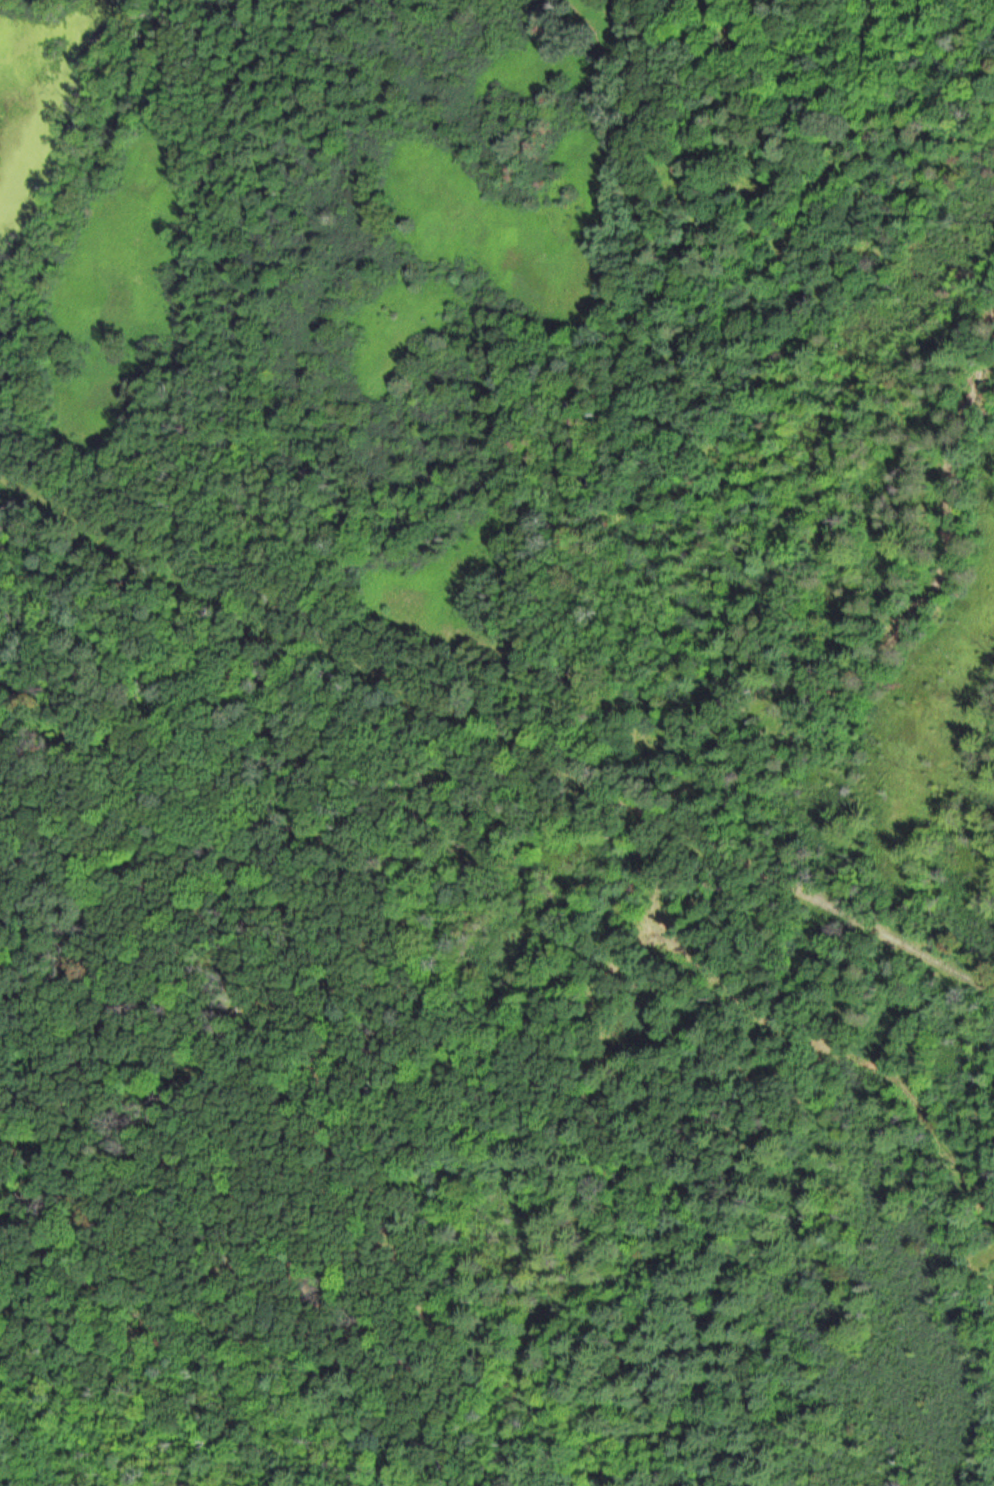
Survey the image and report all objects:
road: (53, 569)
railway: (495, 736)

